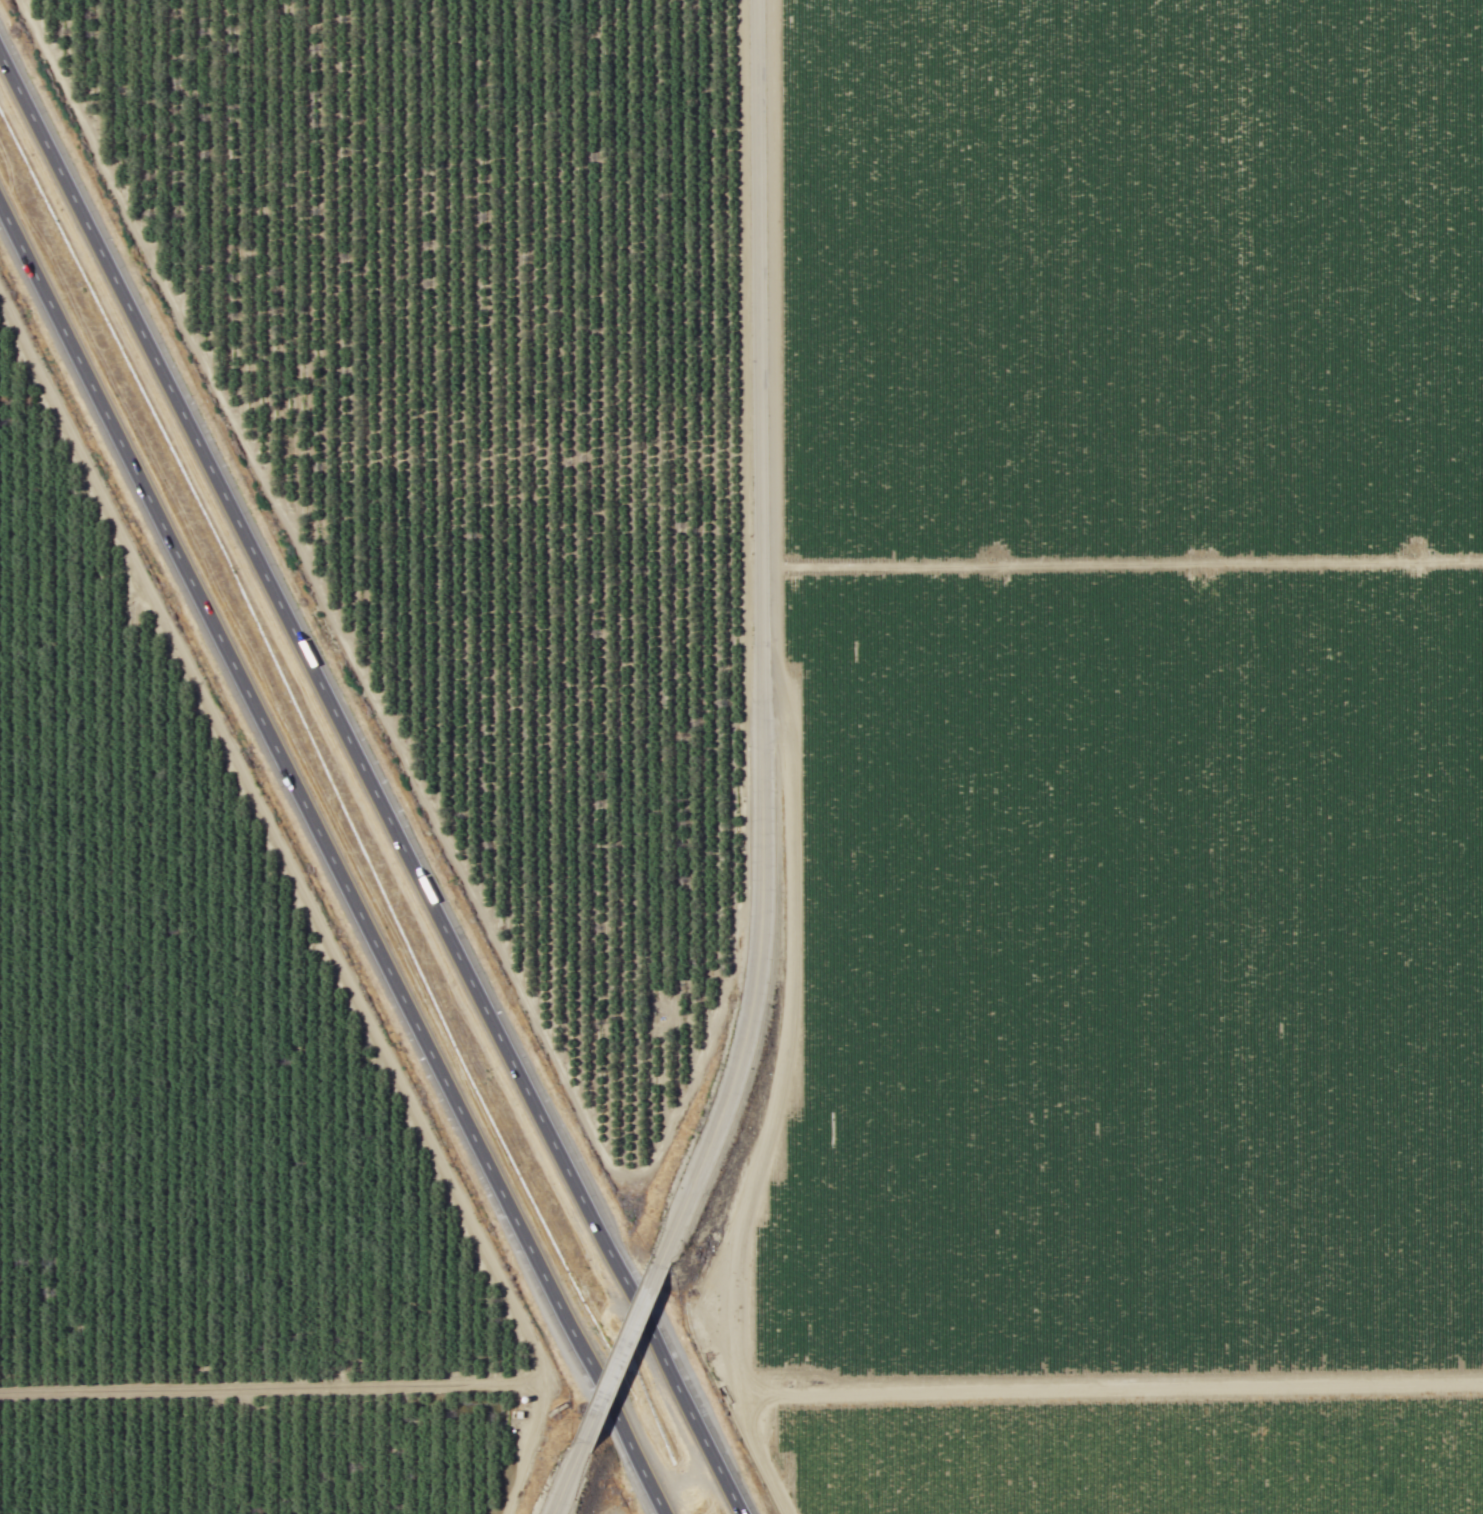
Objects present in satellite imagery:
road: (756, 641)
crop: (1115, 767)
road: (374, 777)
road: (330, 865)
road: (623, 1361)
road: (570, 1485)
crop: (605, 1505)

